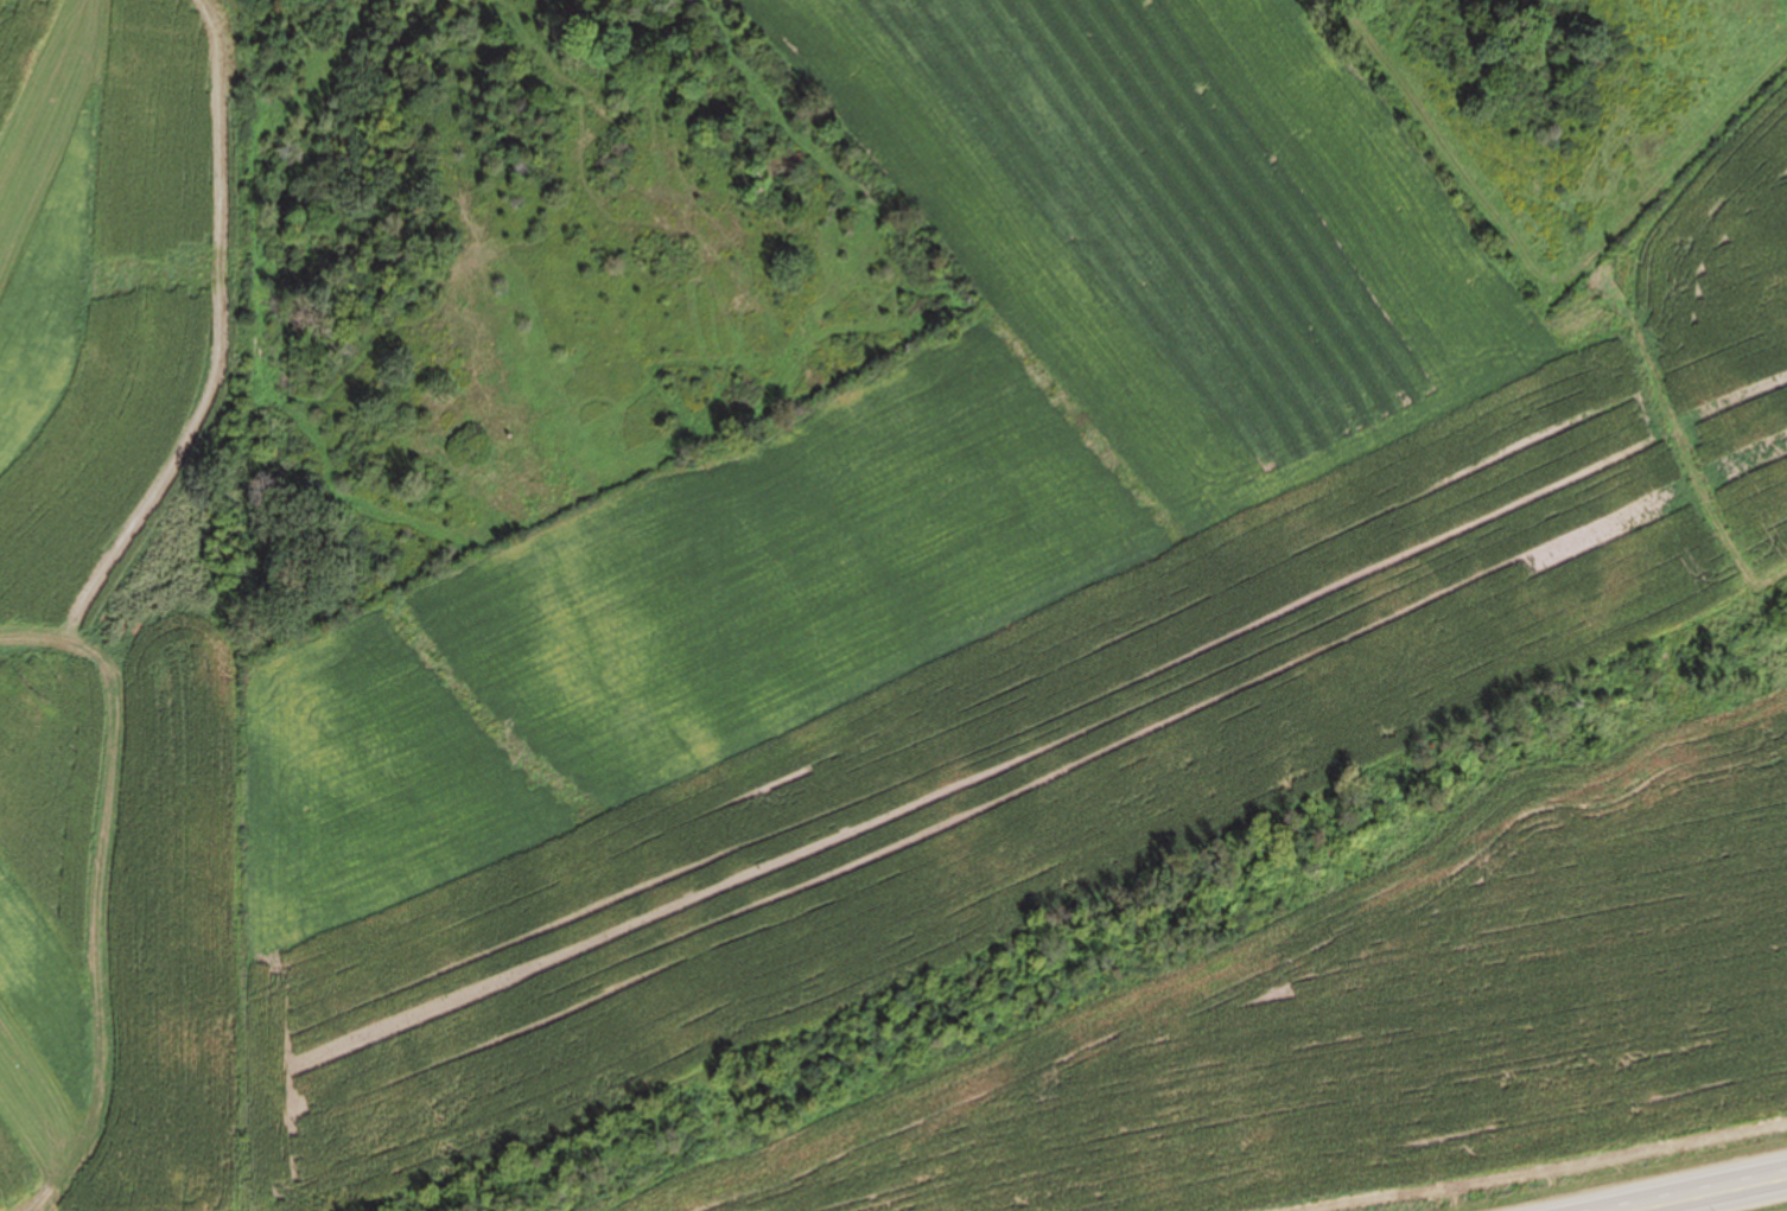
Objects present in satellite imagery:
road: (1686, 1188)

